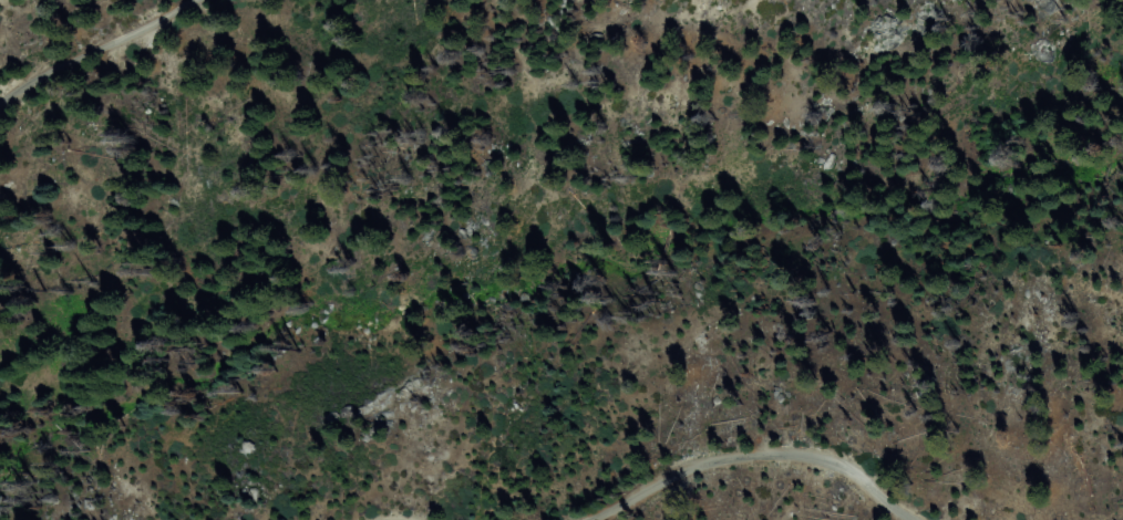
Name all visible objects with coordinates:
road: (100, 53)
road: (758, 457)

